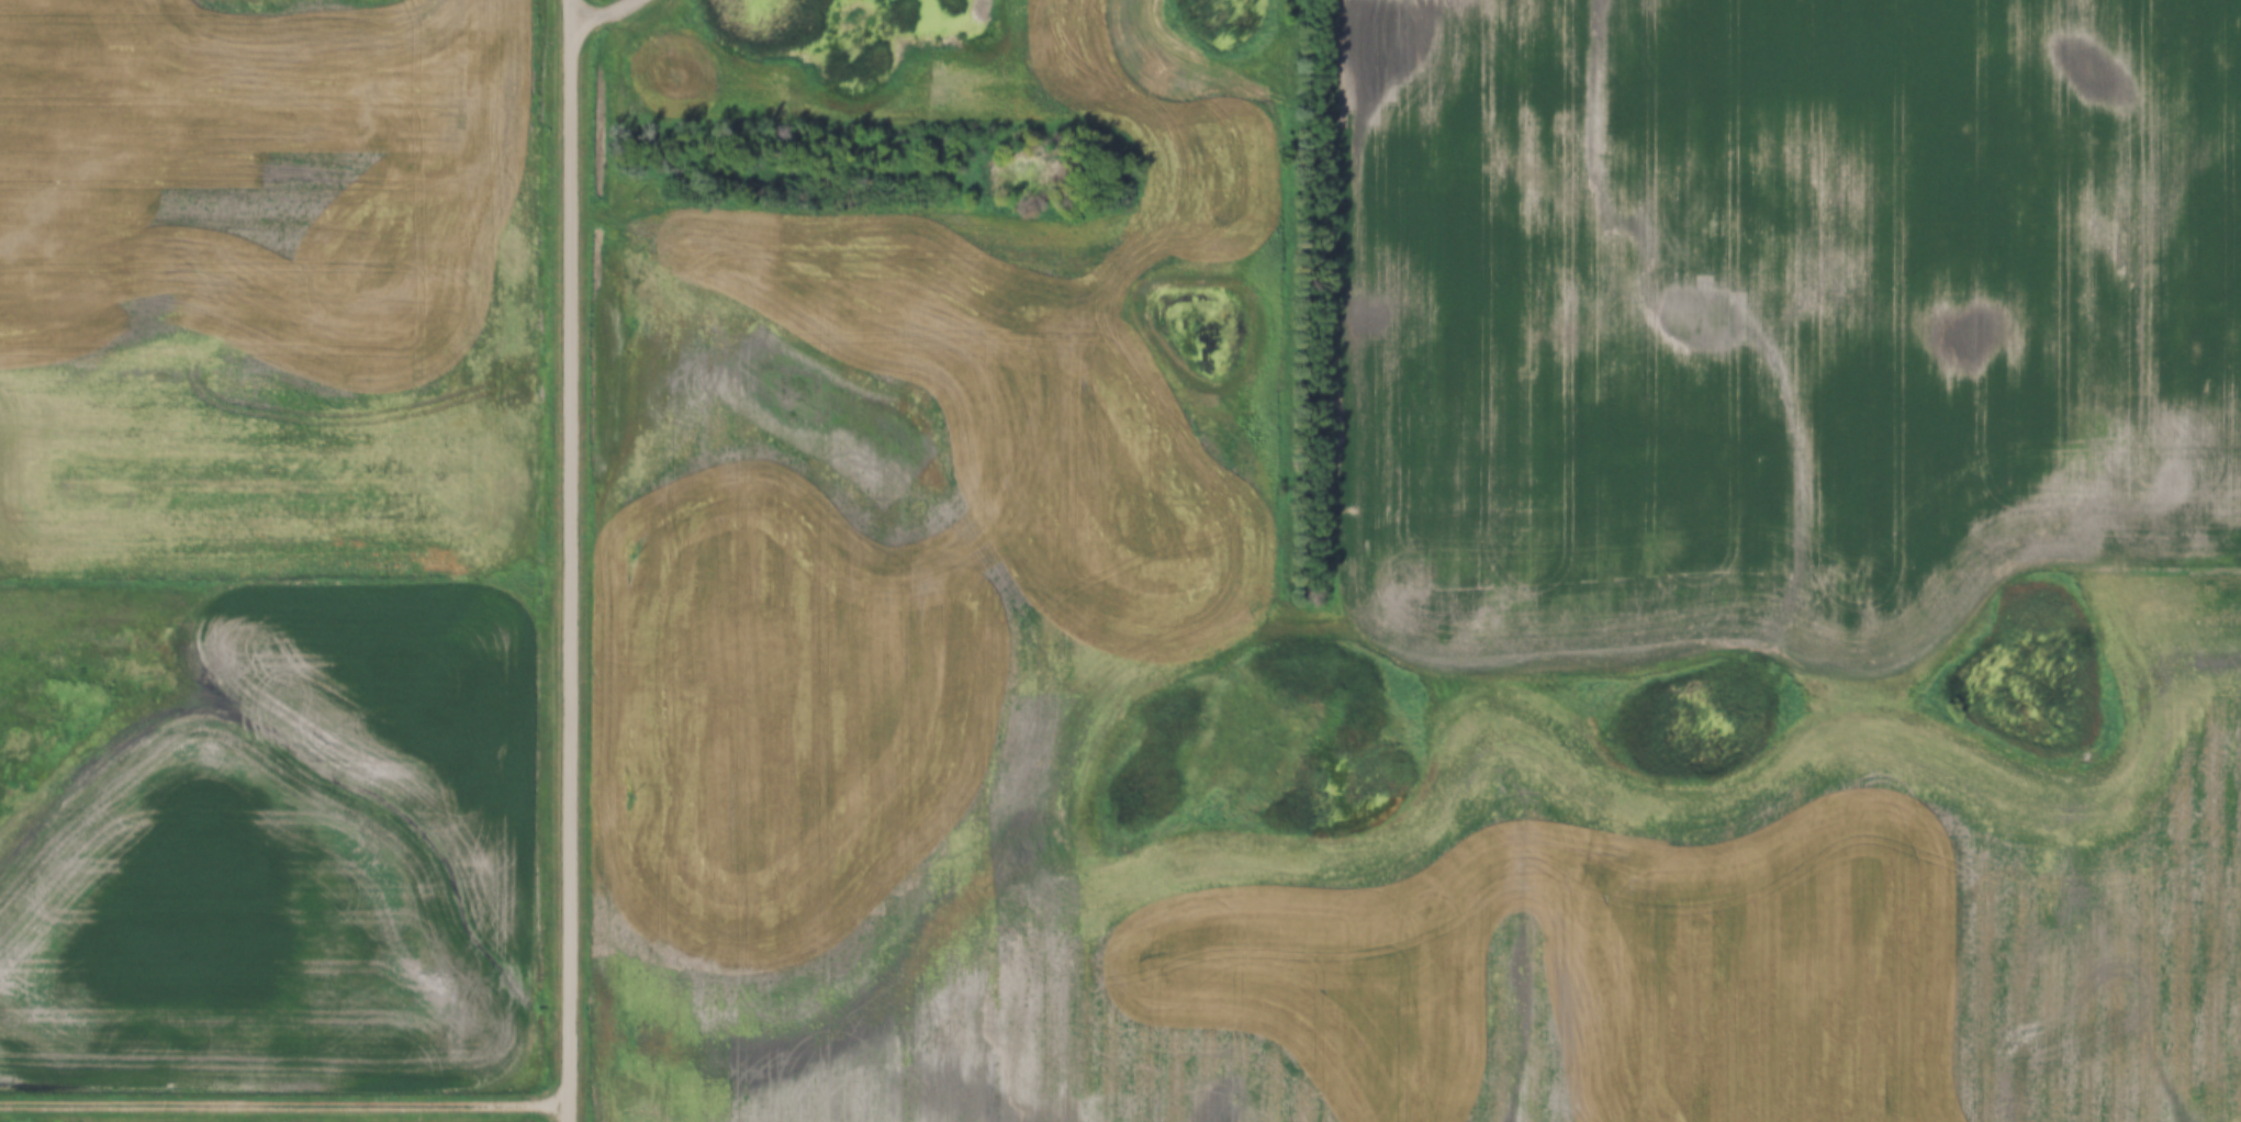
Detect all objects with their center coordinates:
road: (604, 15)
road: (569, 561)
road: (283, 1109)

